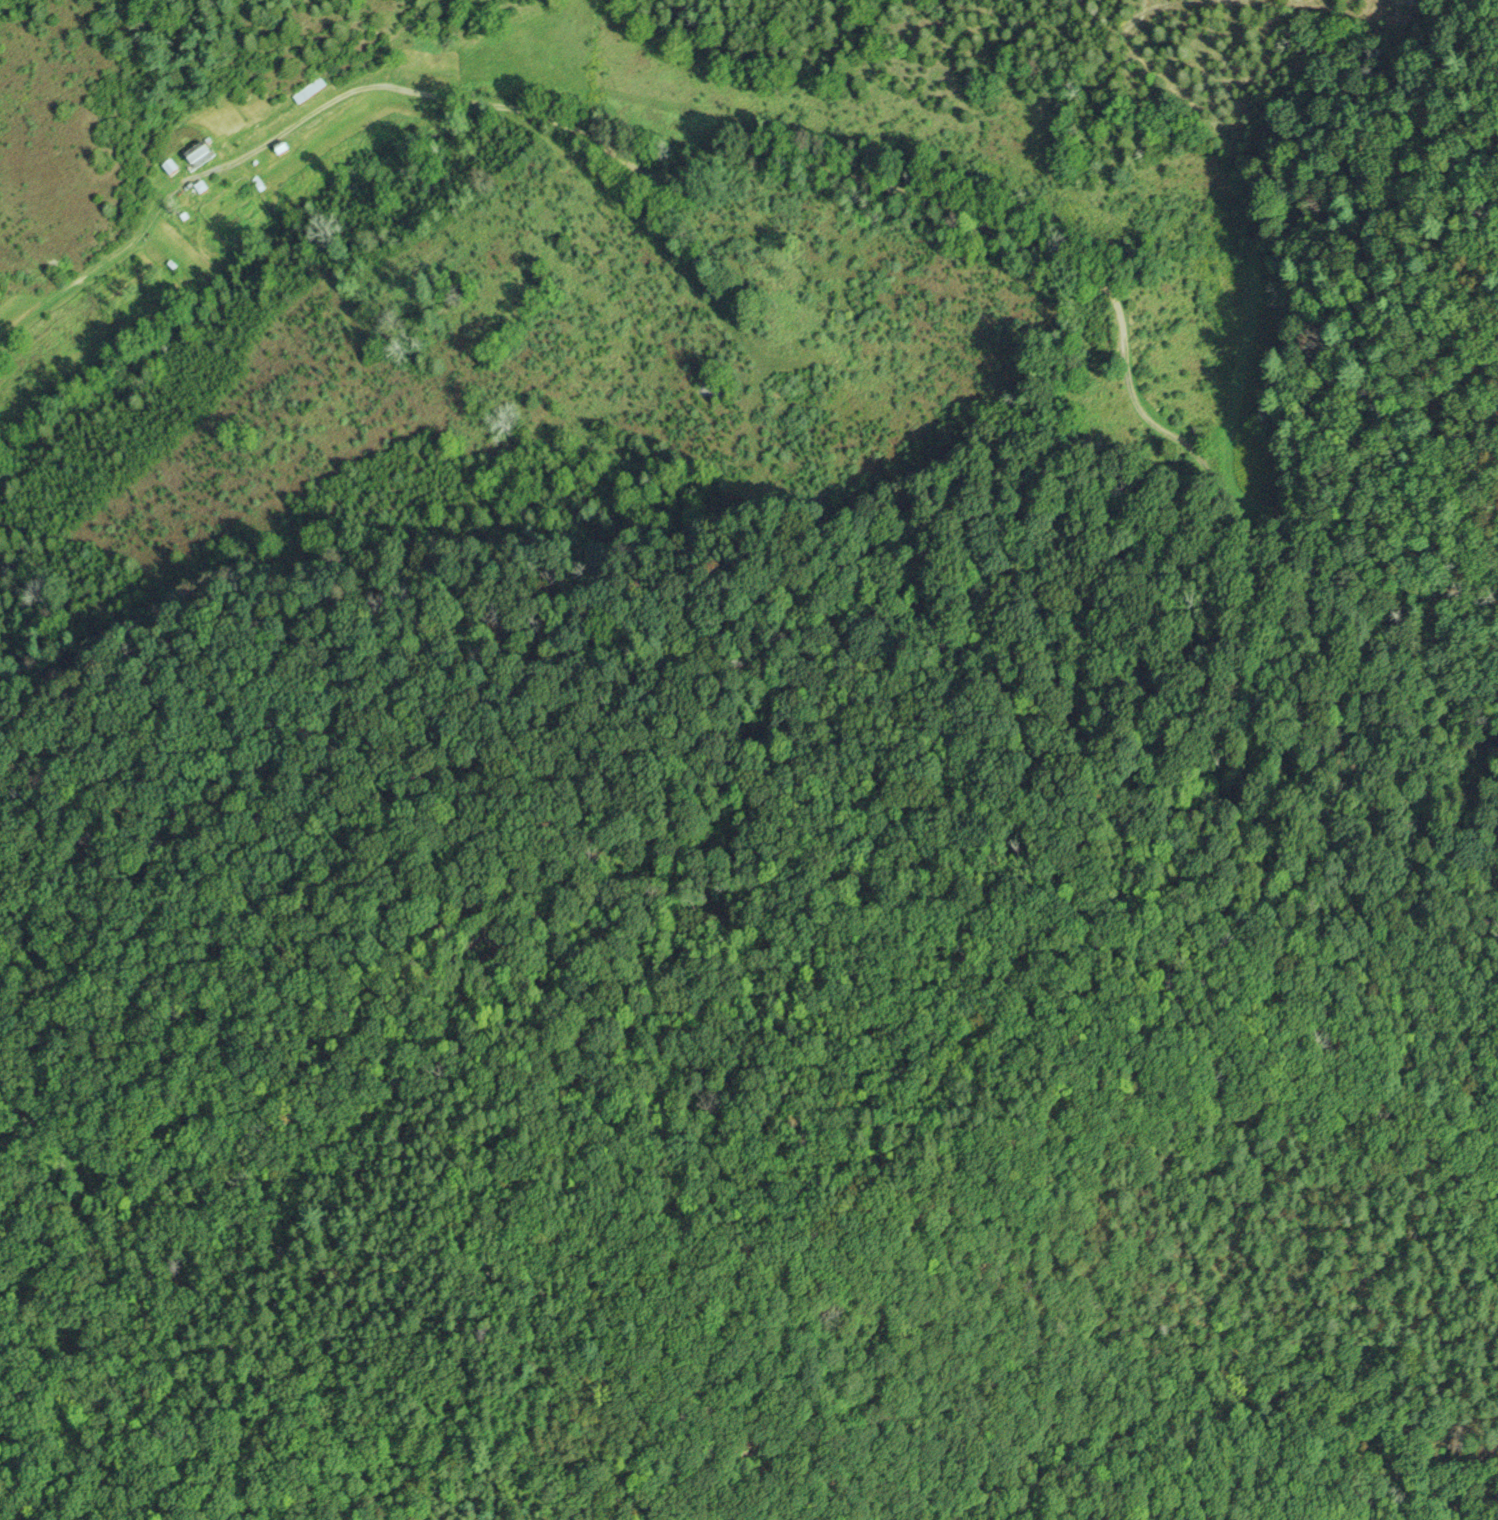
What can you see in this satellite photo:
building: (314, 89)
road: (862, 157)
building: (176, 168)

